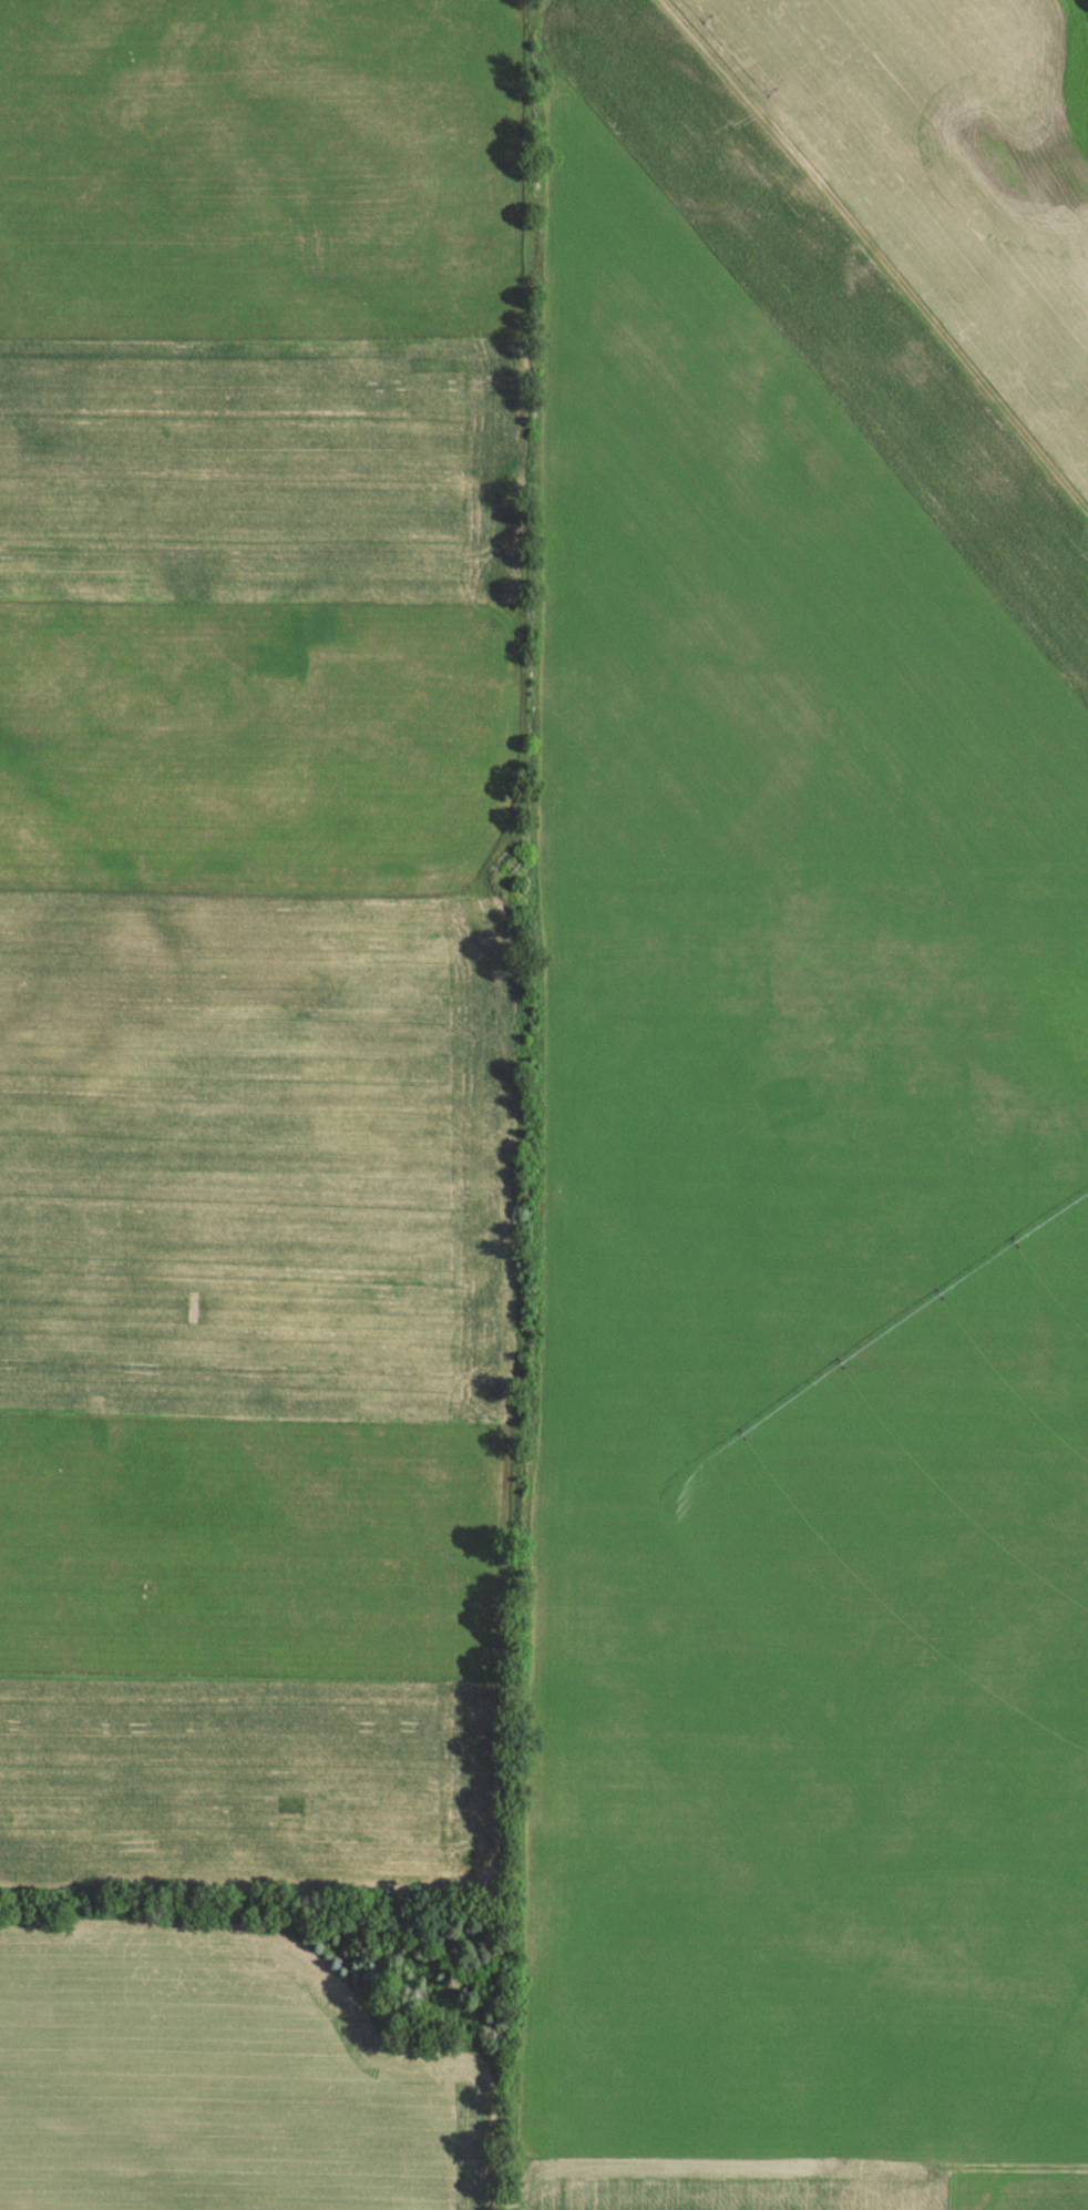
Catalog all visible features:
road: (872, 252)

